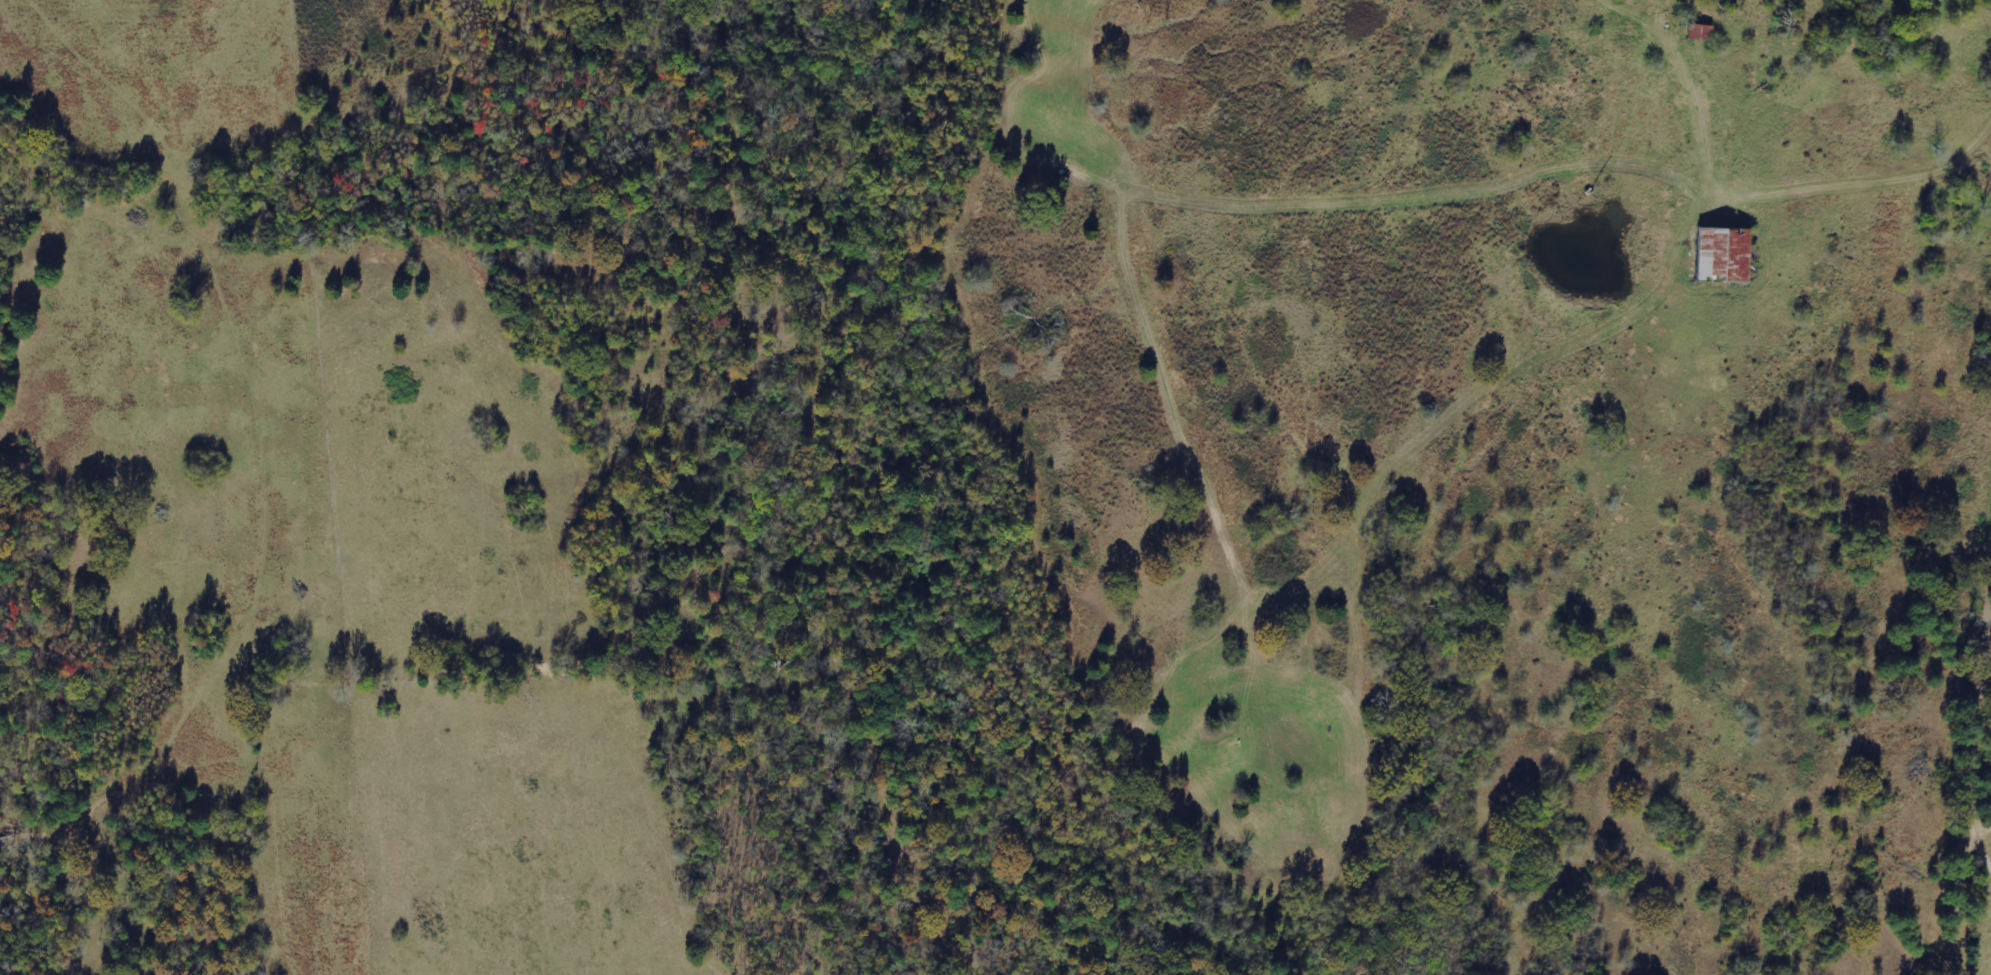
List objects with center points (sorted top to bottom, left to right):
building: (1719, 256)

